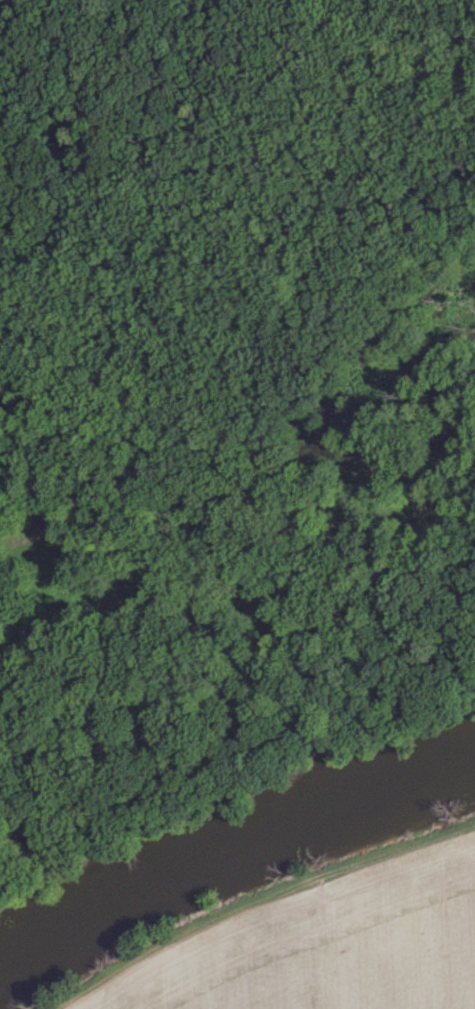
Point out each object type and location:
river: (236, 849)

